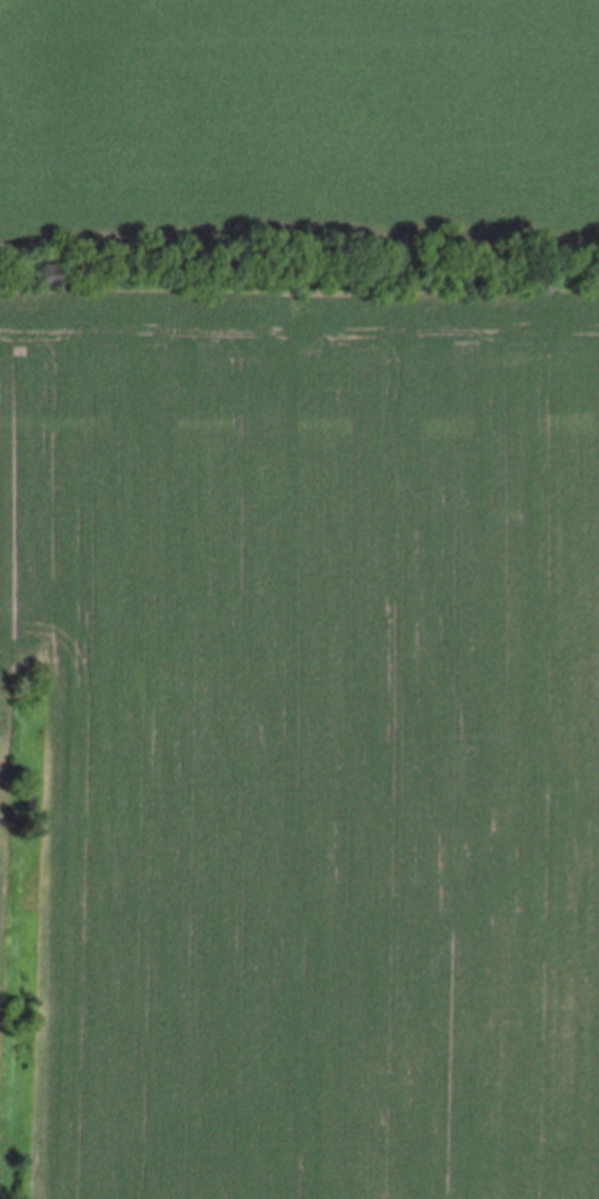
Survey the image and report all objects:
park: (299, 599)

